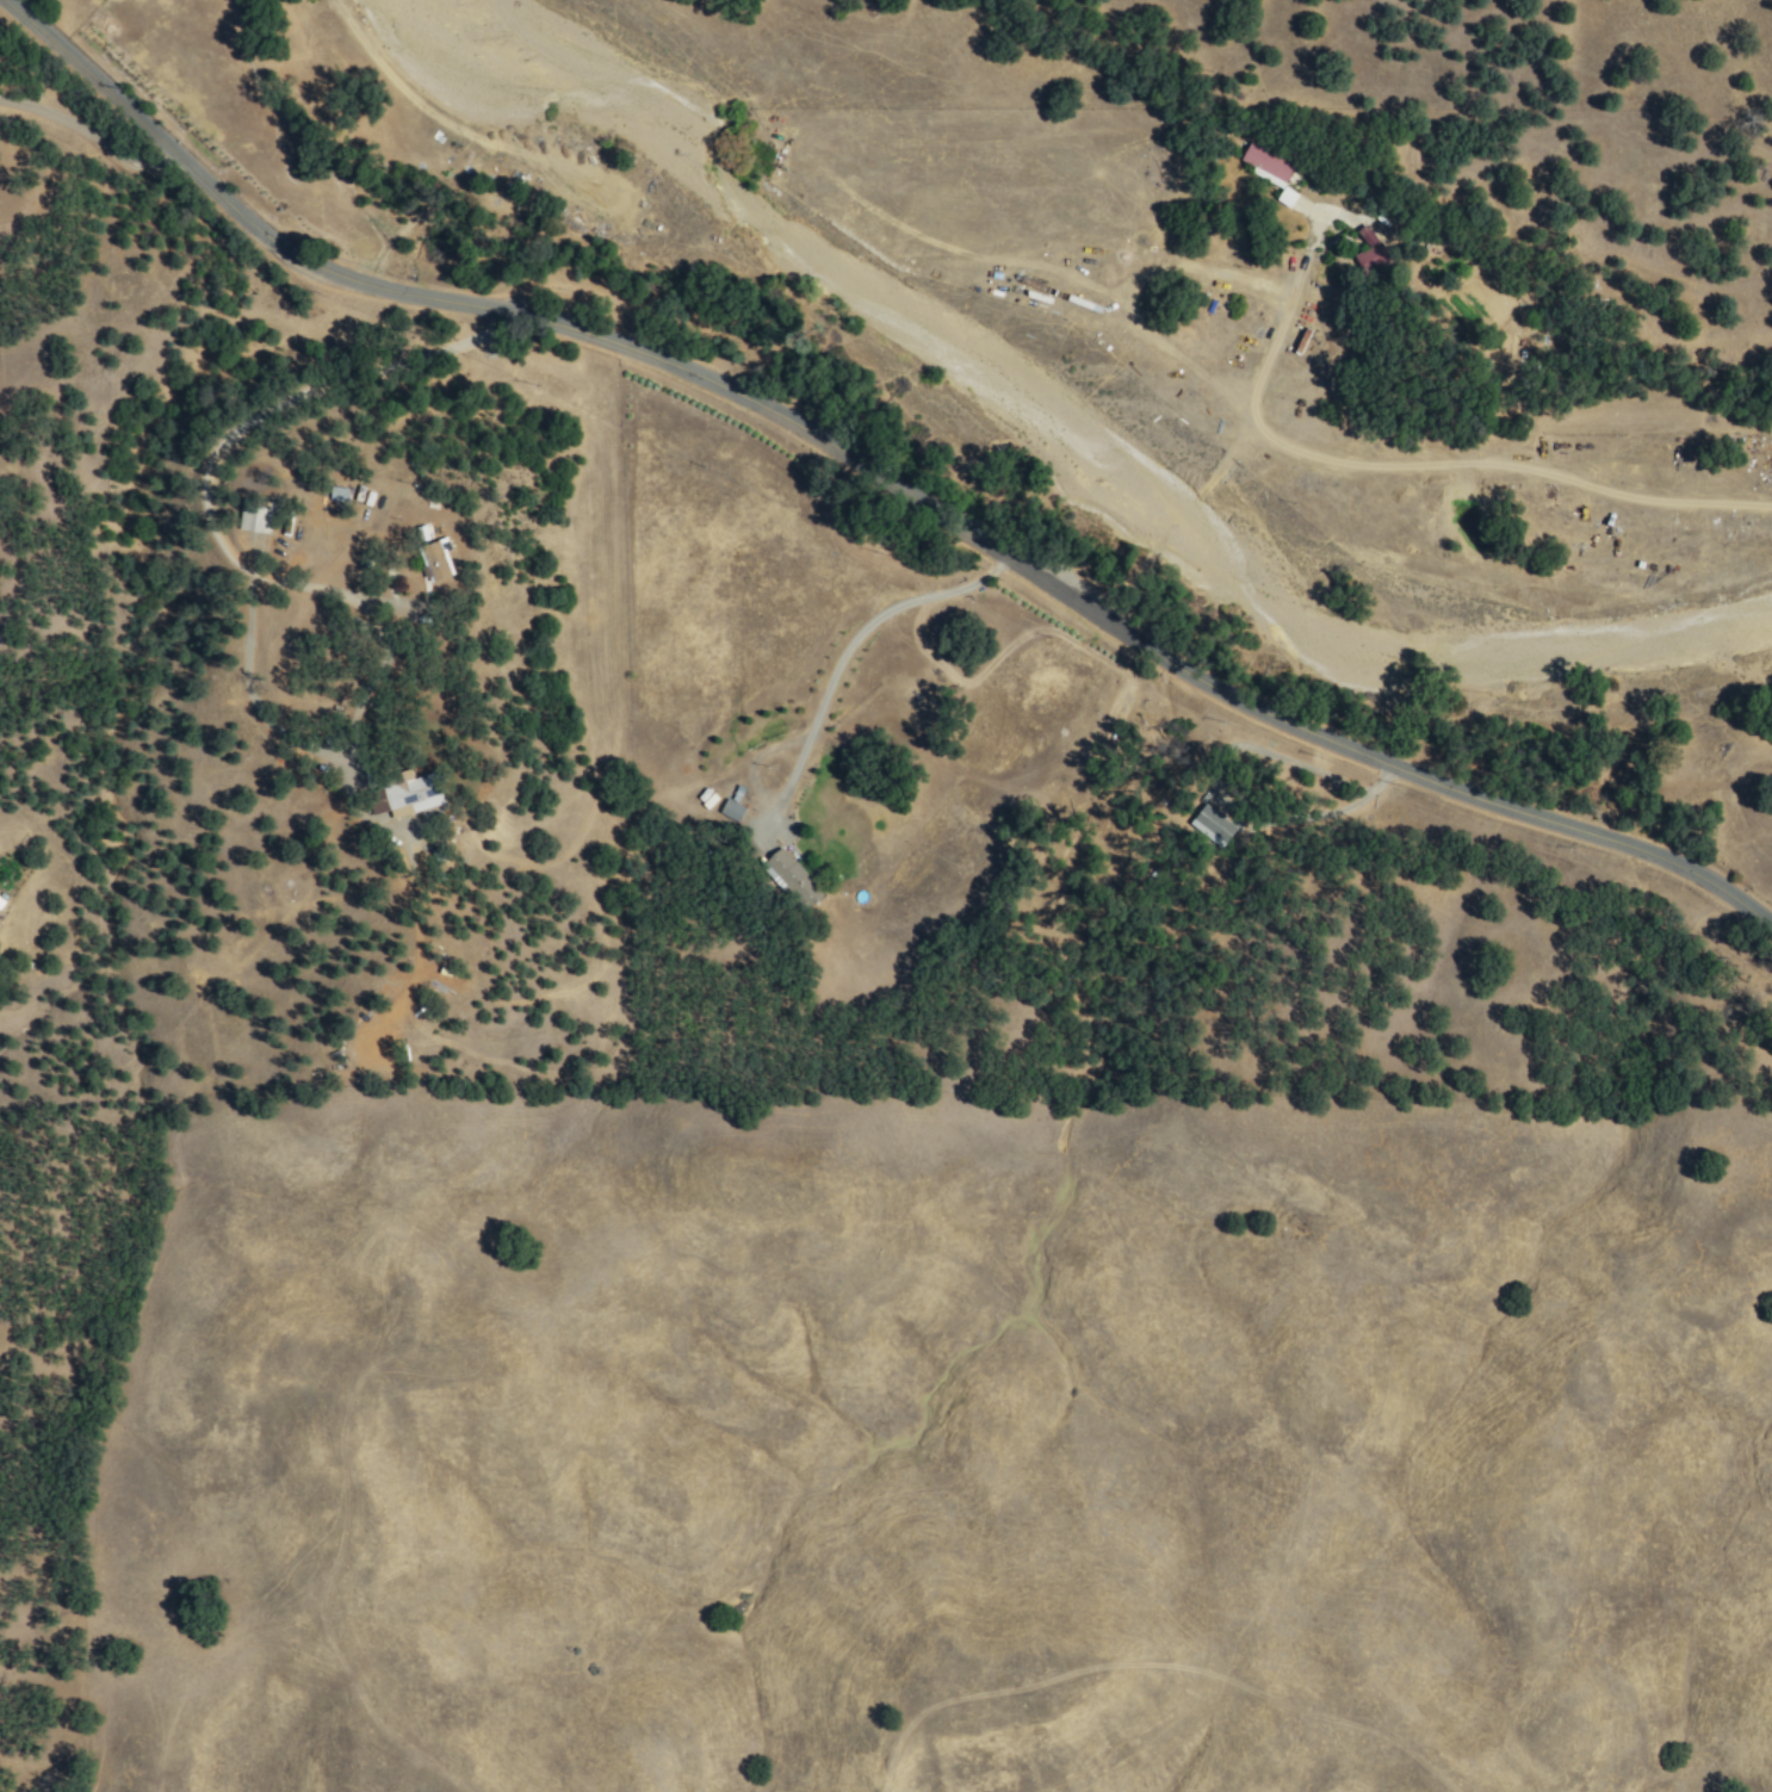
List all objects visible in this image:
road: (117, 143)
building: (1265, 161)
building: (1364, 235)
building: (1371, 258)
road: (236, 423)
river: (1091, 457)
road: (875, 473)
building: (337, 494)
building: (255, 519)
building: (435, 558)
road: (830, 687)
building: (411, 794)
building: (730, 811)
building: (1213, 823)
building: (789, 874)
building: (0, 903)

